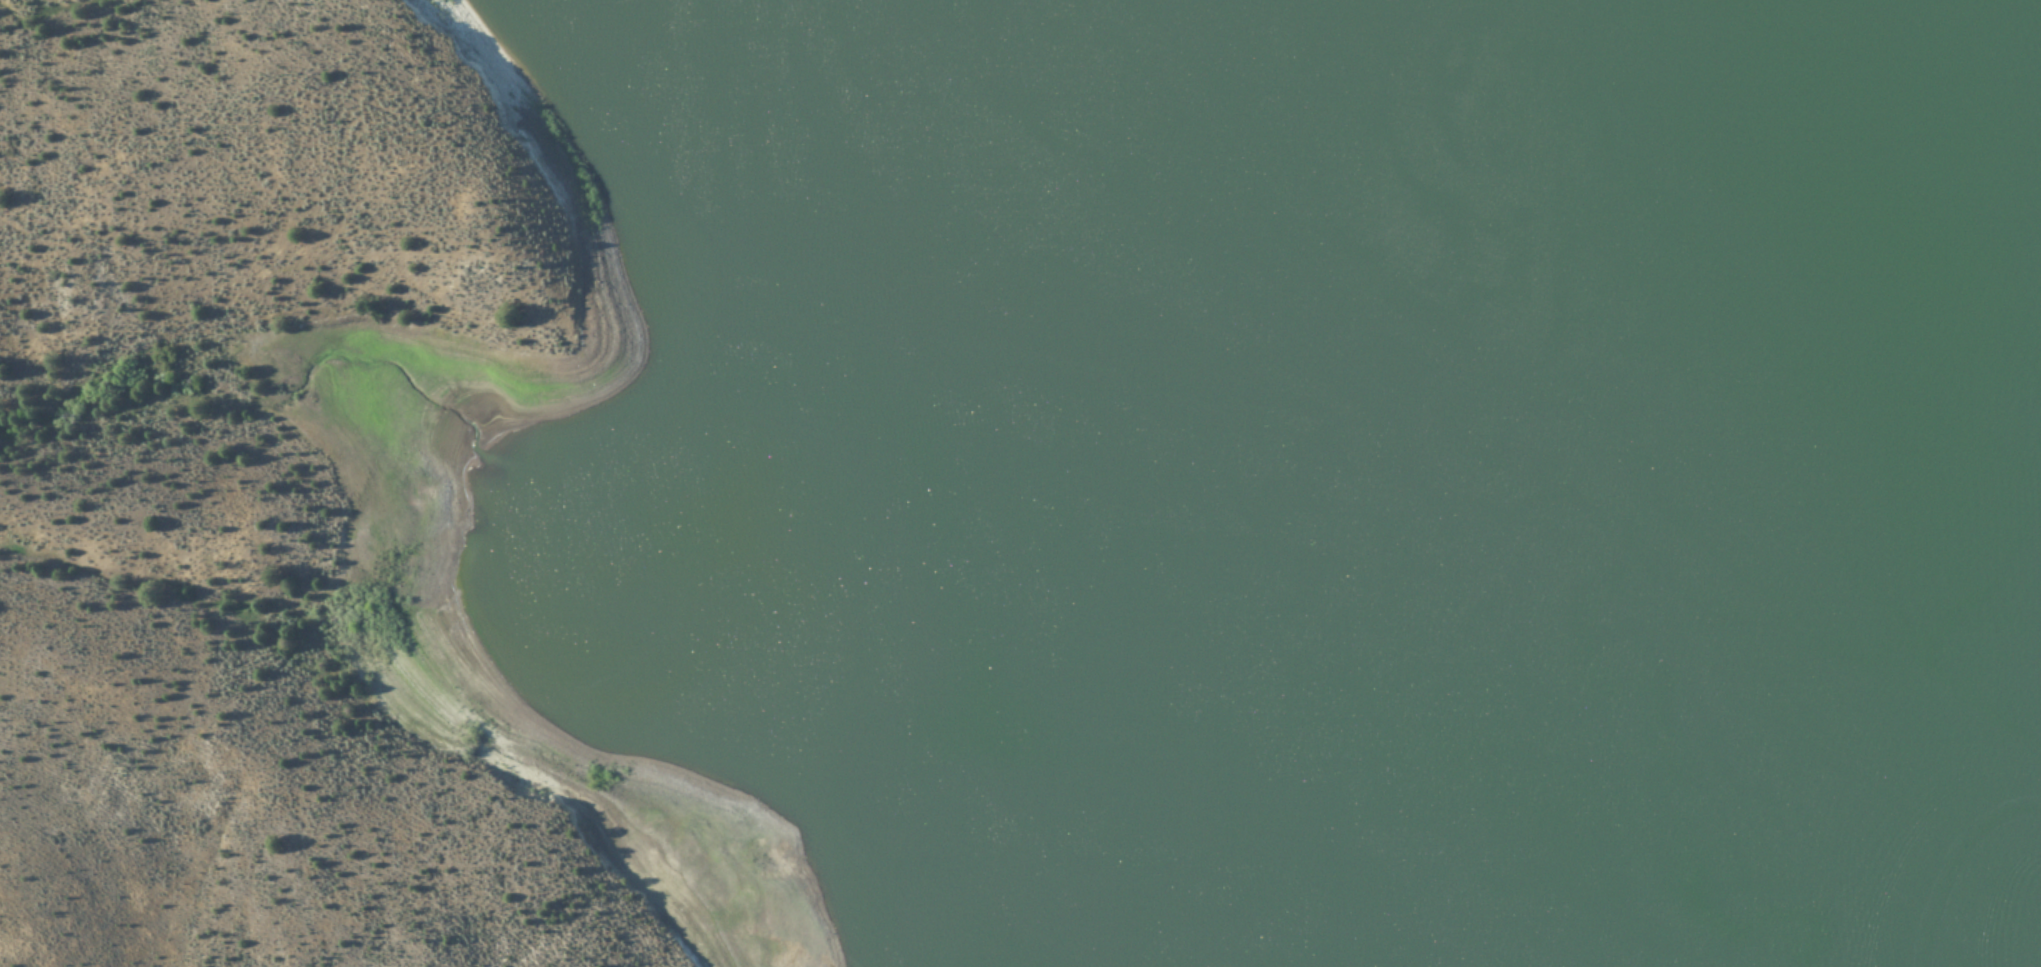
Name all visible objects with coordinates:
river: (2018, 444)
river: (2036, 758)

